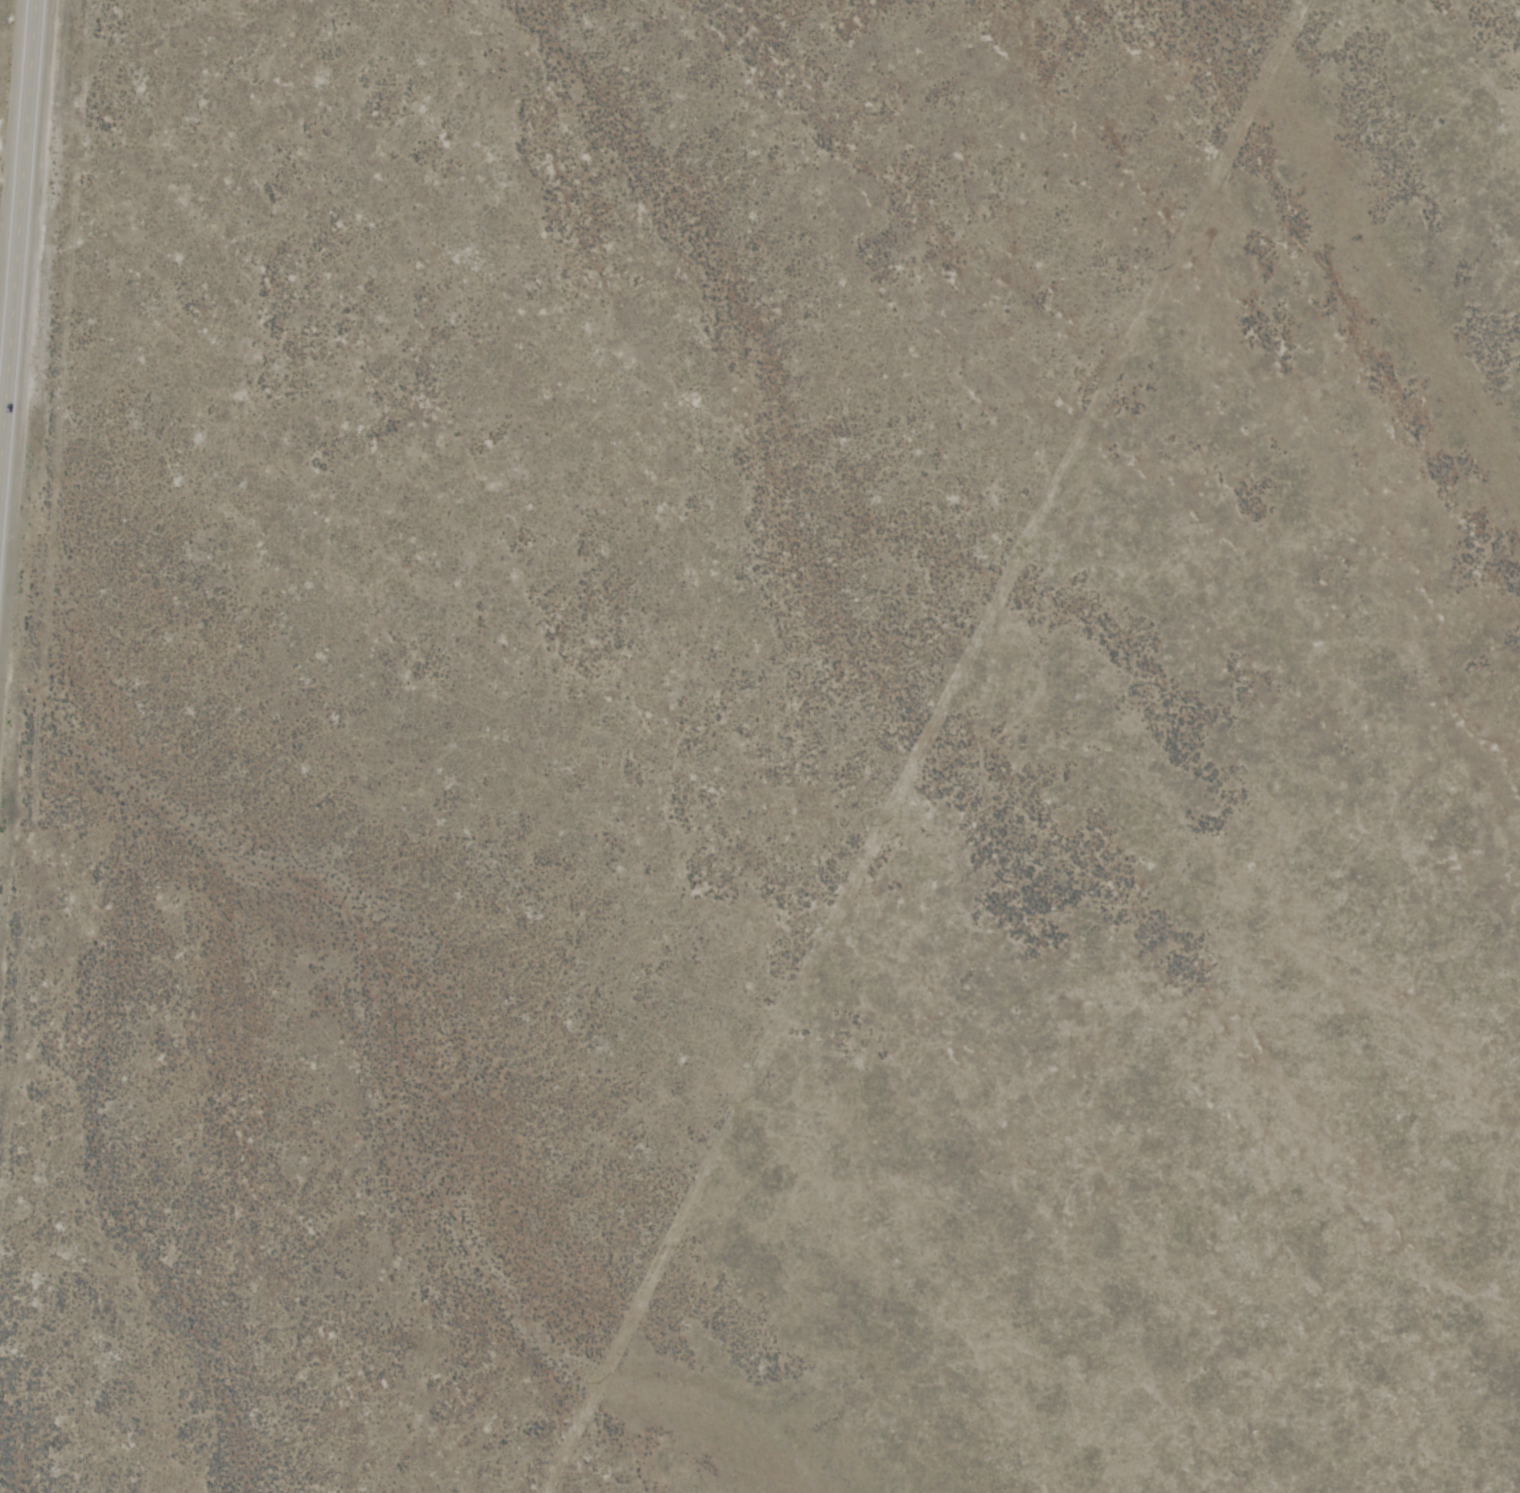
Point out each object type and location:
road: (15, 201)

